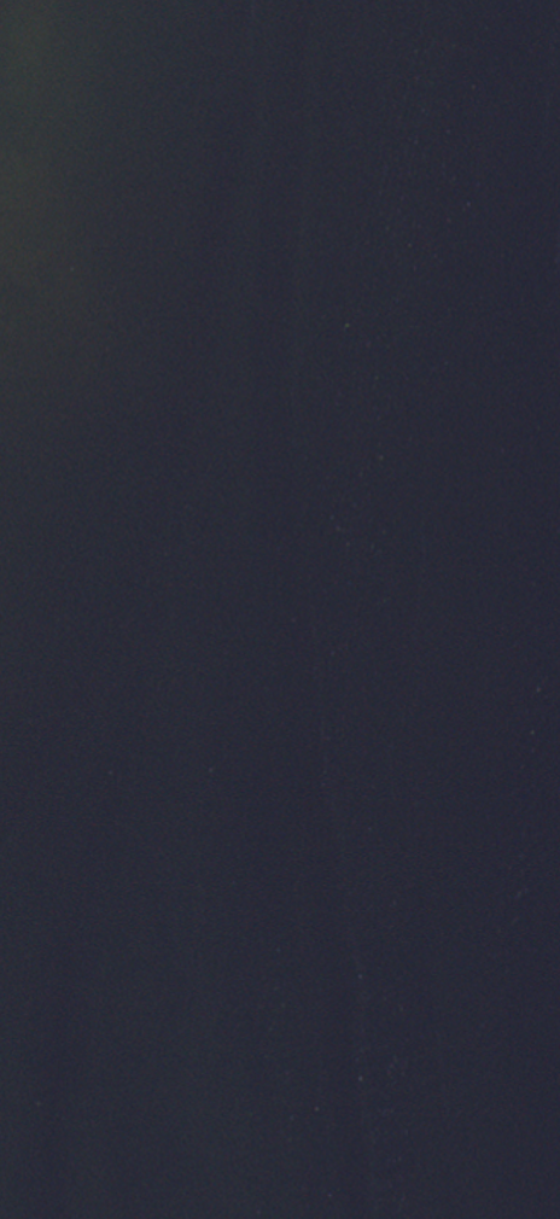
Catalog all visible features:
river: (548, 185)

